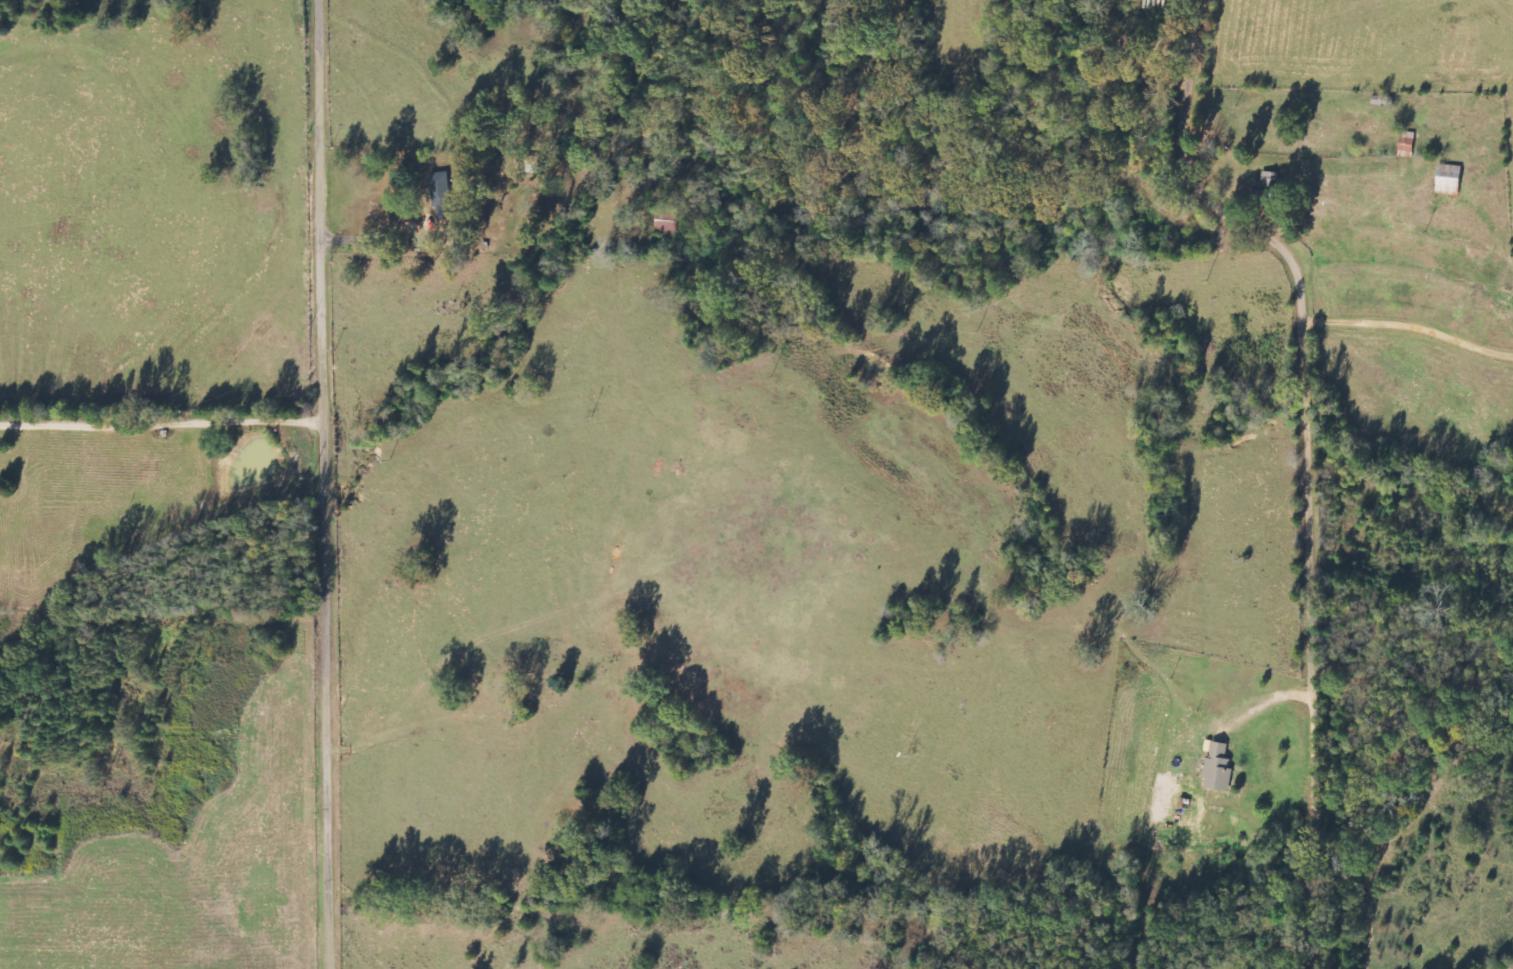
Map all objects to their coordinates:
building: (1450, 180)
building: (1267, 183)
building: (443, 195)
road: (1316, 458)
road: (332, 484)
road: (167, 609)
building: (1219, 769)

